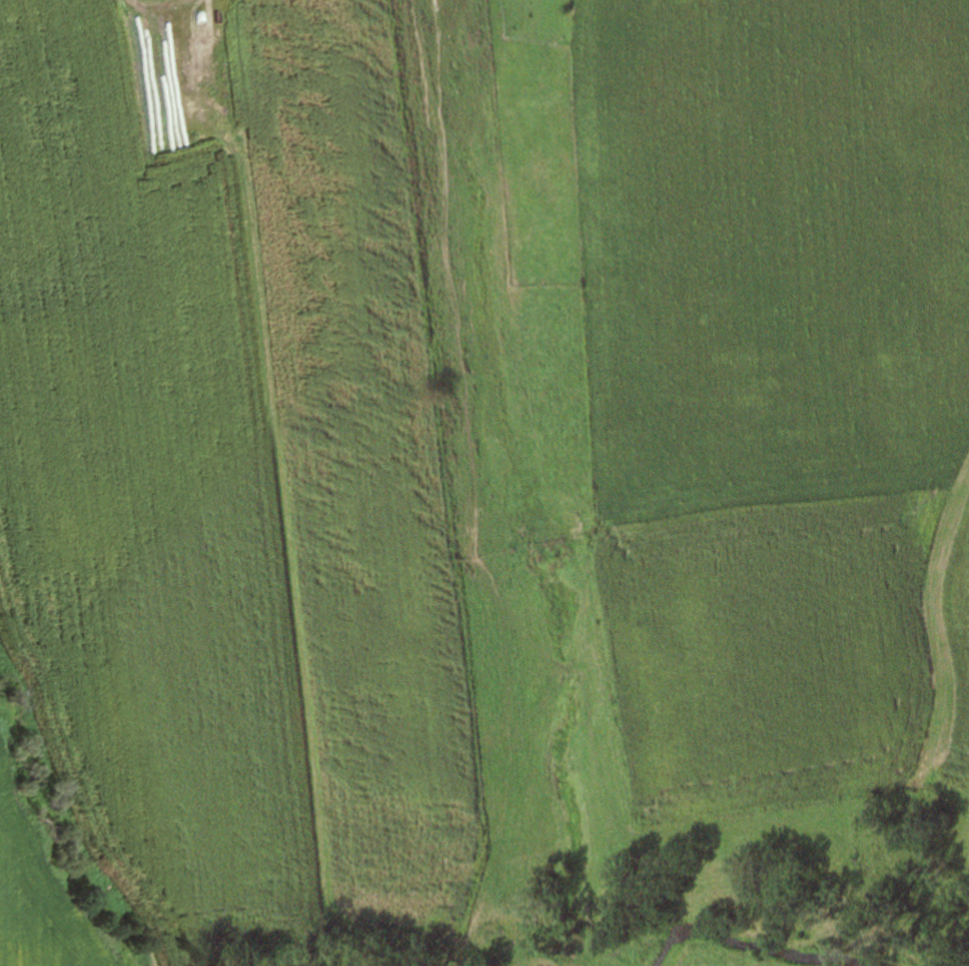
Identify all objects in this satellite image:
river: (752, 945)

